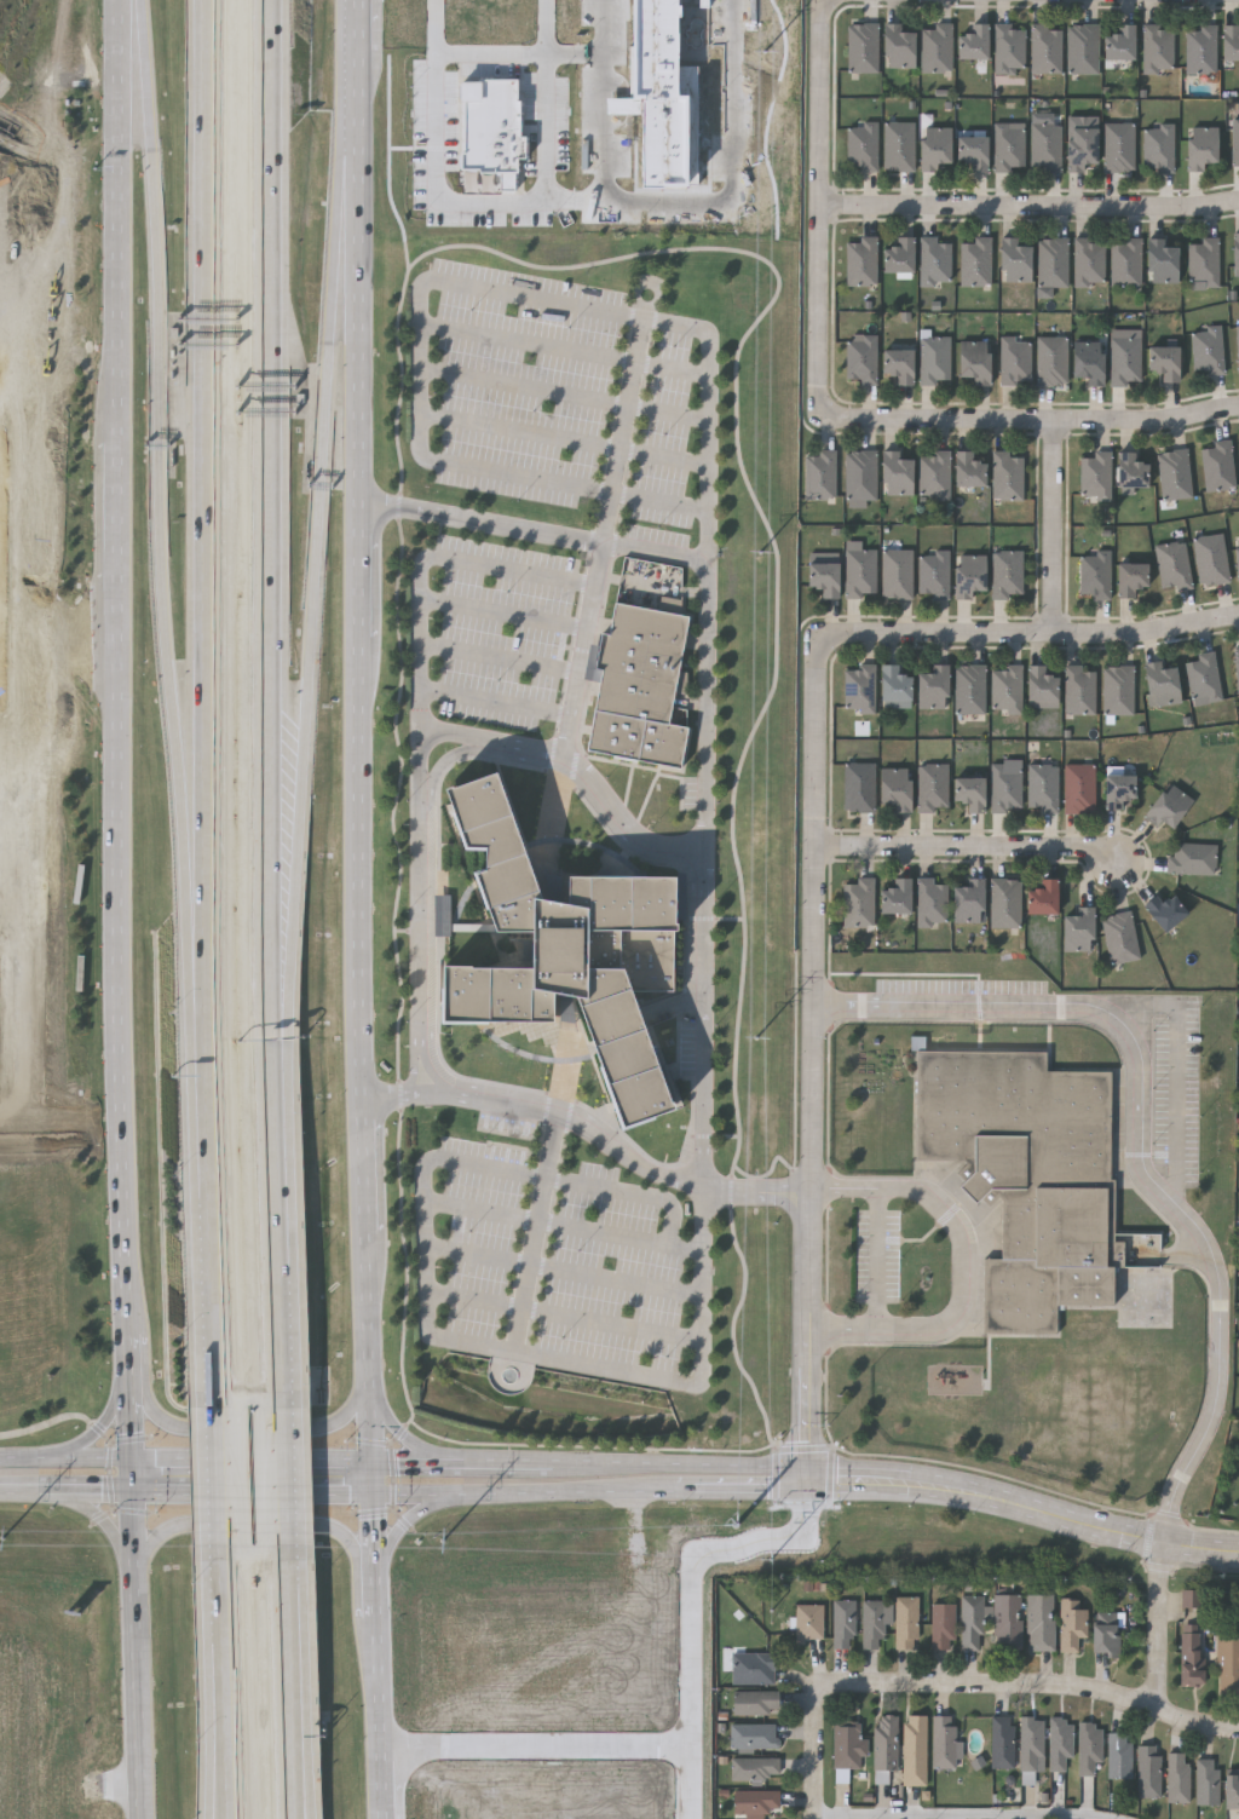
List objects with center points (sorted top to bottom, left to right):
building: (973, 41)
building: (1229, 41)
building: (1119, 42)
building: (898, 46)
building: (861, 47)
building: (935, 48)
building: (1008, 48)
building: (1045, 48)
building: (1082, 48)
building: (1158, 48)
building: (1200, 48)
power tower: (763, 53)
road: (546, 63)
building: (663, 97)
road: (543, 107)
building: (492, 128)
road: (599, 139)
building: (1235, 140)
building: (861, 145)
building: (898, 145)
building: (934, 146)
building: (1008, 146)
building: (1044, 146)
building: (1118, 146)
building: (1199, 146)
building: (1080, 148)
building: (1158, 148)
building: (973, 151)
road: (820, 206)
road: (1030, 206)
road: (582, 214)
building: (1238, 249)
building: (899, 255)
building: (1013, 260)
building: (861, 261)
building: (935, 261)
building: (975, 261)
building: (1053, 261)
building: (1088, 261)
building: (1162, 261)
building: (1206, 261)
building: (1124, 263)
building: (1238, 346)
road: (565, 347)
building: (1208, 350)
road: (420, 352)
building: (861, 359)
building: (934, 359)
building: (974, 361)
building: (1015, 361)
building: (1051, 361)
building: (1088, 361)
building: (1124, 361)
building: (1163, 362)
building: (898, 364)
road: (565, 392)
road: (59, 393)
road: (1032, 419)
road: (58, 424)
road: (566, 437)
building: (1217, 466)
building: (967, 468)
building: (1130, 470)
building: (1175, 473)
building: (819, 474)
building: (860, 474)
building: (895, 474)
building: (934, 474)
building: (1008, 474)
building: (1095, 474)
road: (663, 499)
road: (165, 512)
road: (204, 512)
road: (277, 525)
road: (607, 525)
road: (1054, 528)
road: (534, 531)
power tower: (759, 554)
building: (1237, 557)
road: (318, 559)
building: (1210, 559)
building: (1172, 565)
building: (859, 571)
building: (897, 574)
building: (1007, 574)
building: (1094, 574)
building: (933, 575)
building: (968, 575)
building: (1130, 577)
building: (823, 578)
road: (505, 615)
road: (1028, 635)
road: (501, 660)
road: (117, 661)
building: (1238, 672)
building: (1203, 678)
building: (638, 683)
building: (1160, 683)
building: (859, 687)
building: (893, 687)
building: (932, 687)
building: (1041, 687)
building: (969, 689)
building: (1005, 689)
building: (1079, 690)
building: (1118, 690)
road: (497, 704)
road: (423, 713)
road: (708, 727)
road: (11, 735)
road: (449, 758)
road: (580, 766)
building: (858, 787)
building: (894, 787)
building: (932, 787)
building: (1042, 787)
building: (1004, 788)
building: (1078, 788)
building: (1117, 789)
building: (969, 793)
building: (1169, 806)
road: (21, 810)
road: (970, 847)
building: (1191, 857)
building: (895, 897)
building: (1042, 897)
building: (968, 900)
building: (930, 902)
building: (858, 903)
building: (1004, 903)
road: (358, 909)
building: (1164, 911)
building: (1077, 929)
road: (10, 931)
building: (1119, 937)
building: (570, 948)
power tower: (759, 1037)
road: (813, 1057)
road: (433, 1070)
road: (415, 1071)
road: (1179, 1078)
road: (8, 1118)
road: (589, 1128)
road: (1143, 1140)
building: (1026, 1175)
road: (846, 1185)
road: (630, 1192)
road: (206, 1216)
road: (565, 1226)
road: (281, 1228)
road: (536, 1244)
road: (878, 1256)
road: (966, 1265)
road: (565, 1268)
road: (565, 1317)
road: (845, 1329)
road: (515, 1353)
road: (132, 1364)
road: (109, 1416)
road: (398, 1426)
road: (235, 1427)
road: (133, 1432)
building: (1238, 1455)
traffic signals: (133, 1457)
road: (362, 1458)
traffic signals: (378, 1460)
road: (767, 1466)
road: (212, 1478)
road: (286, 1478)
traffic signals: (809, 1478)
traffic signals: (134, 1491)
traffic signals: (378, 1491)
road: (404, 1491)
road: (1025, 1506)
road: (94, 1516)
road: (409, 1518)
road: (264, 1526)
power tower: (739, 1529)
power tower: (444, 1539)
power tower: (2, 1542)
building: (1193, 1599)
road: (691, 1606)
building: (808, 1621)
building: (905, 1622)
building: (972, 1622)
building: (1007, 1622)
building: (1041, 1622)
building: (843, 1623)
building: (872, 1624)
building: (1071, 1624)
building: (943, 1625)
road: (1162, 1627)
building: (1105, 1633)
road: (138, 1637)
building: (1191, 1654)
building: (1228, 1663)
road: (293, 1668)
building: (753, 1668)
road: (217, 1683)
road: (1043, 1683)
building: (755, 1702)
building: (754, 1735)
building: (884, 1742)
building: (943, 1742)
building: (1001, 1742)
building: (1059, 1742)
building: (1031, 1743)
road: (536, 1744)
road: (818, 1744)
building: (847, 1745)
building: (1089, 1746)
building: (915, 1750)
building: (1118, 1755)
building: (754, 1767)
building: (1148, 1771)
building: (1179, 1777)
building: (1206, 1781)
road: (93, 1788)
building: (1231, 1789)
road: (299, 1802)
road: (301, 1802)
building: (755, 1802)
road: (968, 1814)

